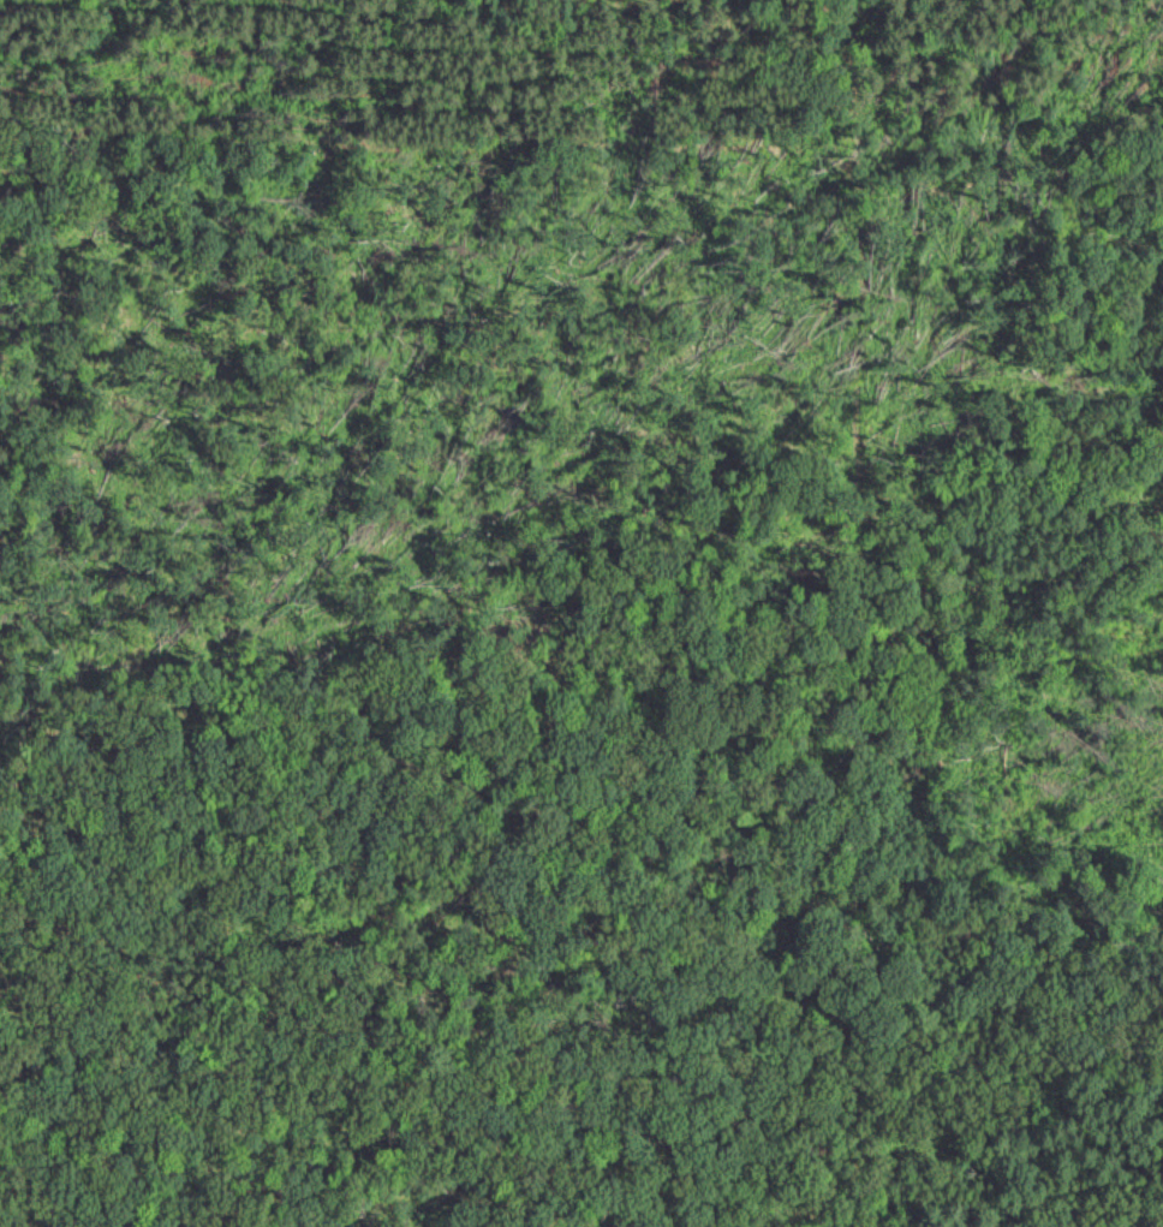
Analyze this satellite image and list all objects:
road: (787, 615)

